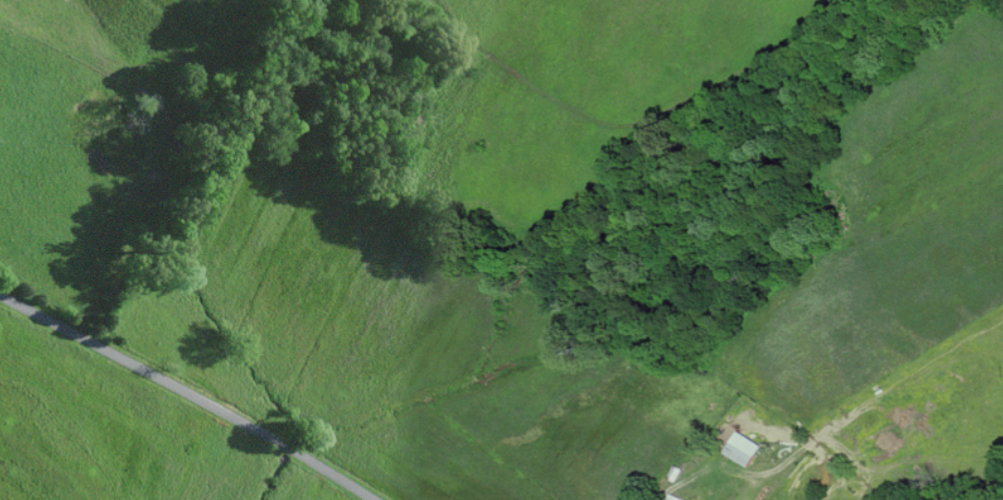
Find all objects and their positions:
road: (190, 392)
building: (749, 451)
building: (673, 472)
building: (675, 497)

